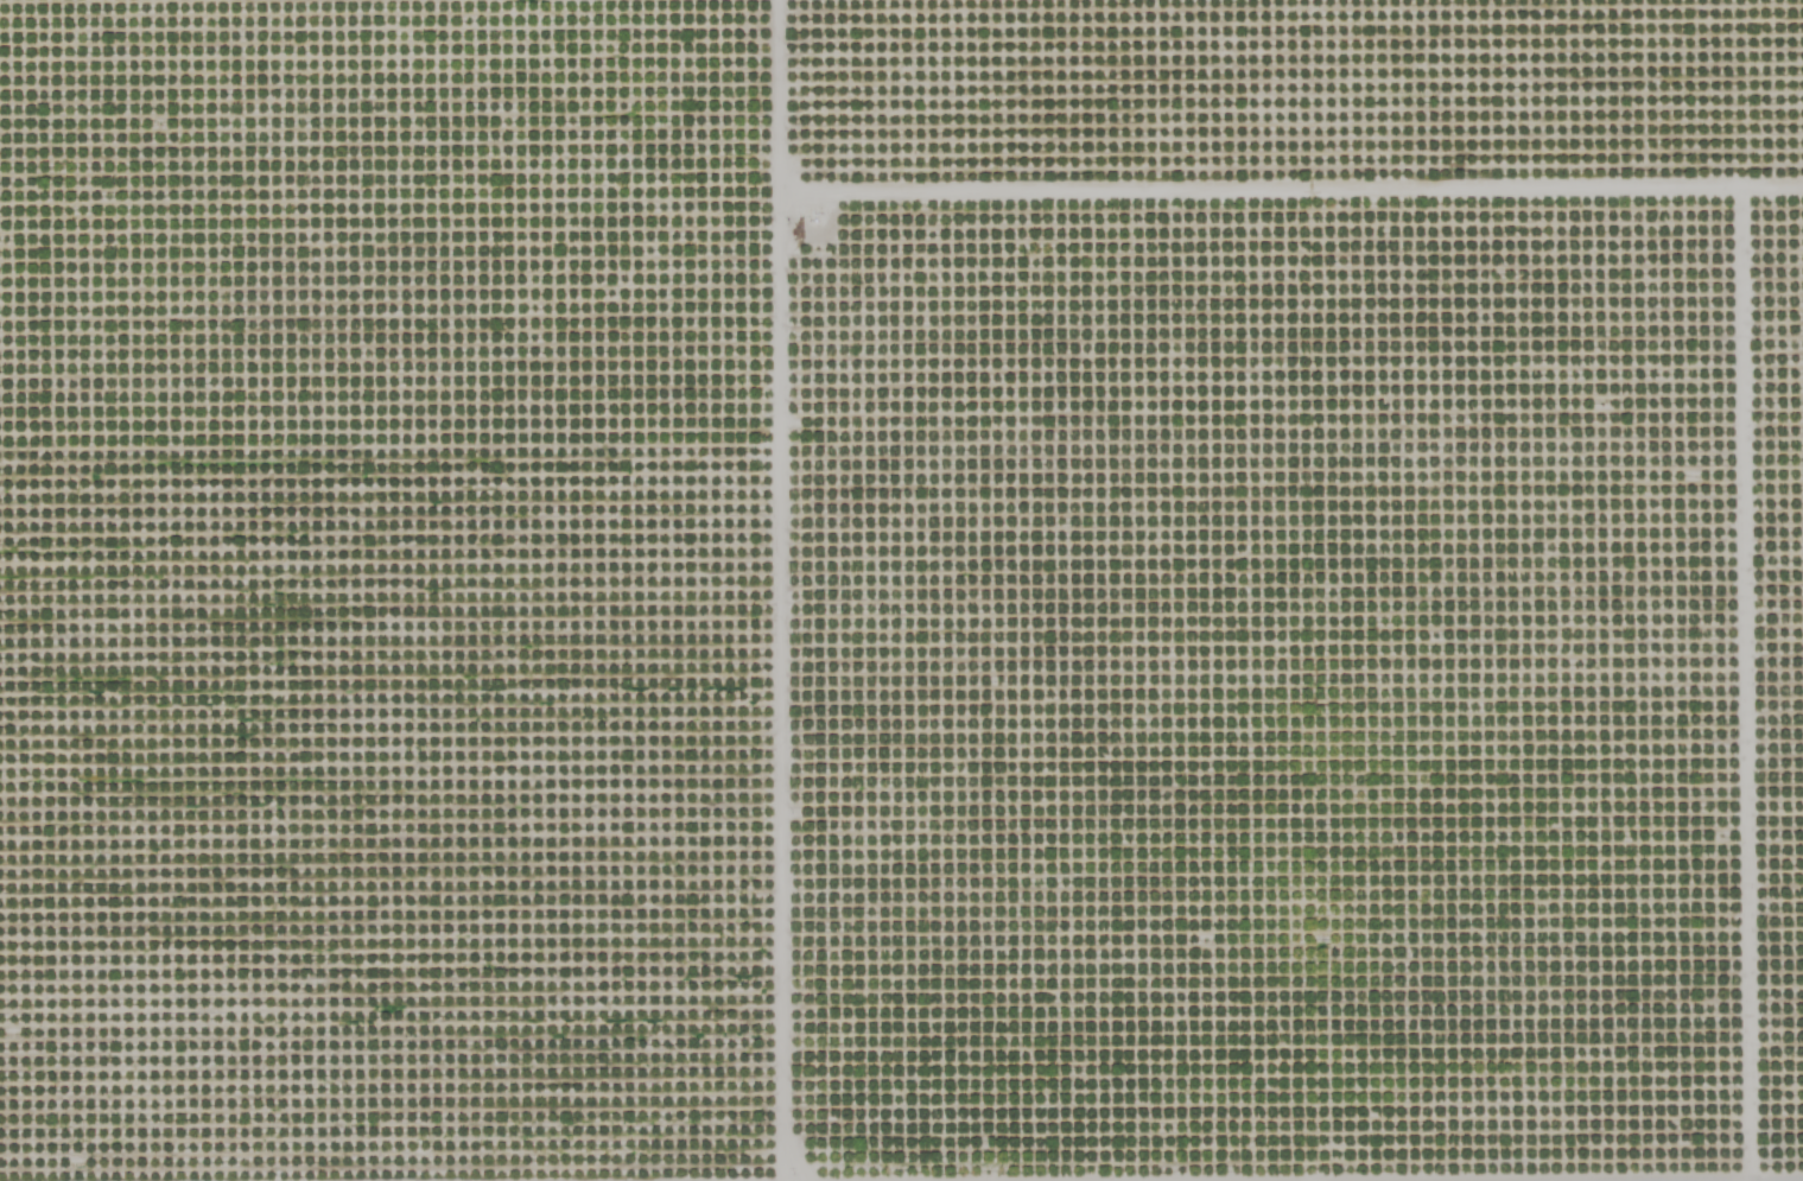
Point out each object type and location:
road: (772, 590)

